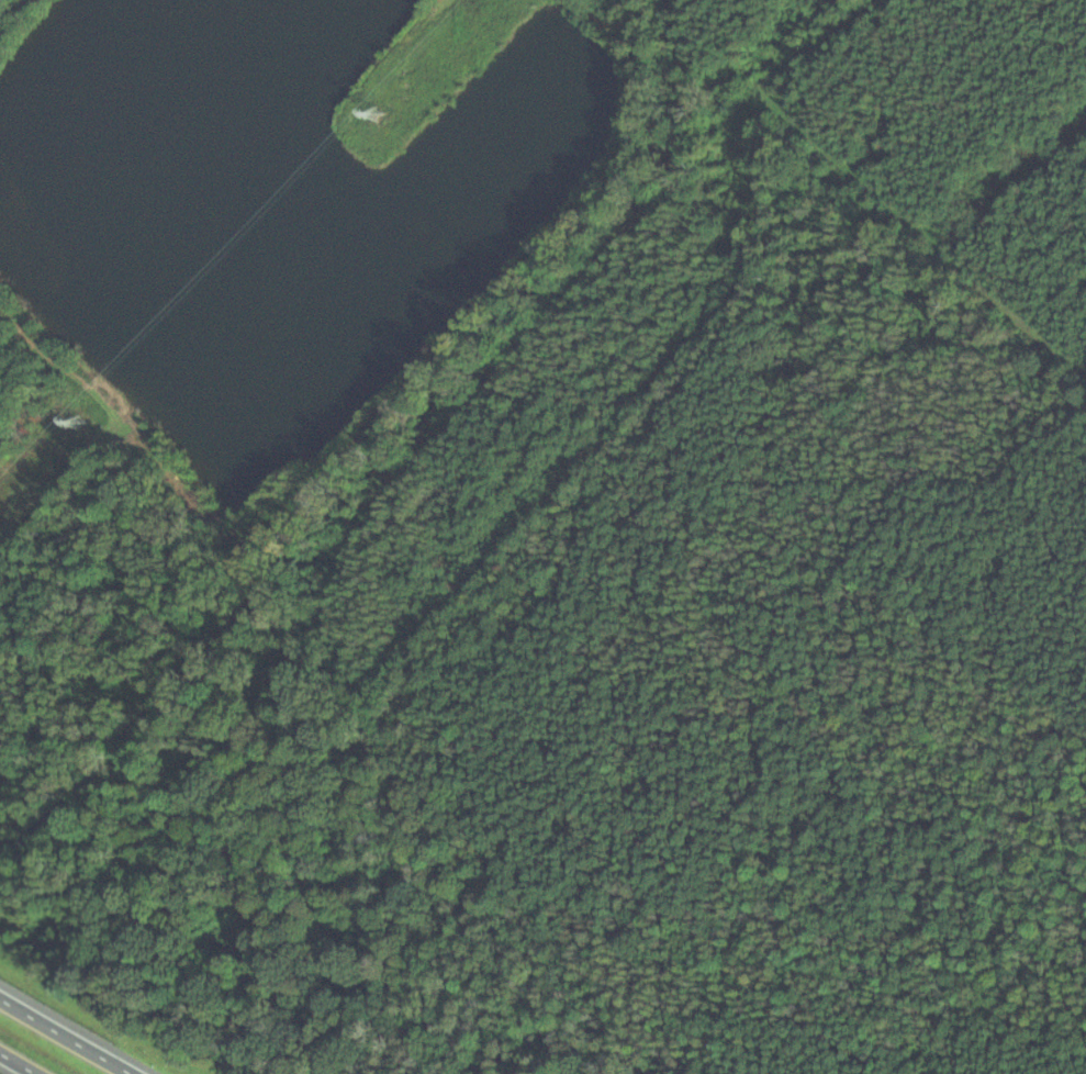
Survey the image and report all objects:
power tower: (380, 112)
power tower: (82, 421)
road: (67, 1036)
road: (19, 1063)

